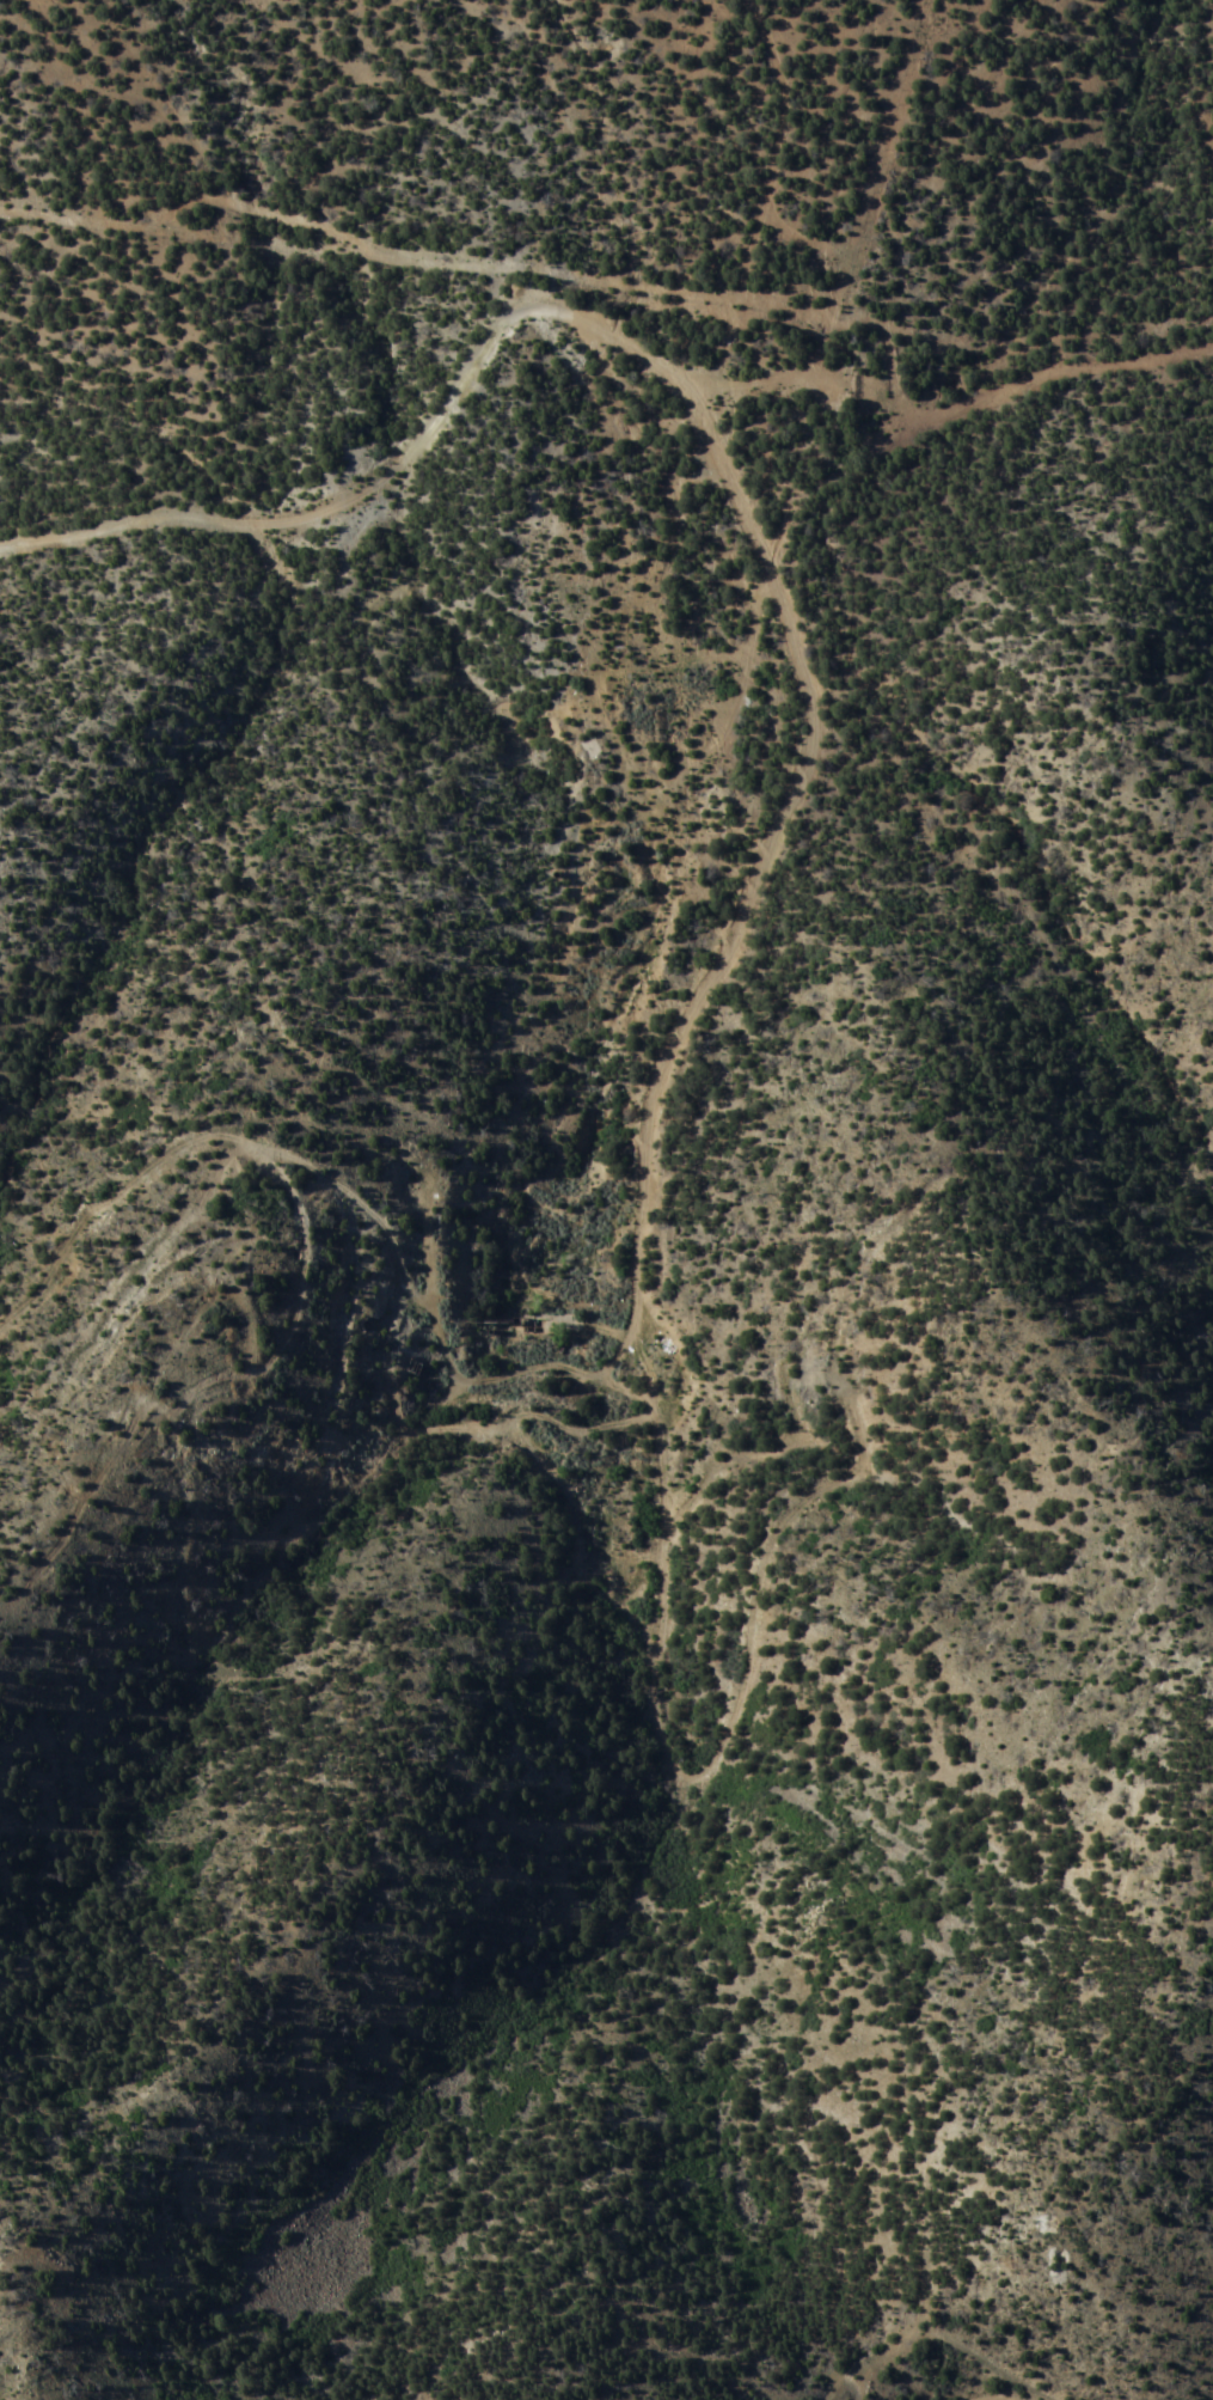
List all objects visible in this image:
road: (888, 203)
road: (544, 335)

